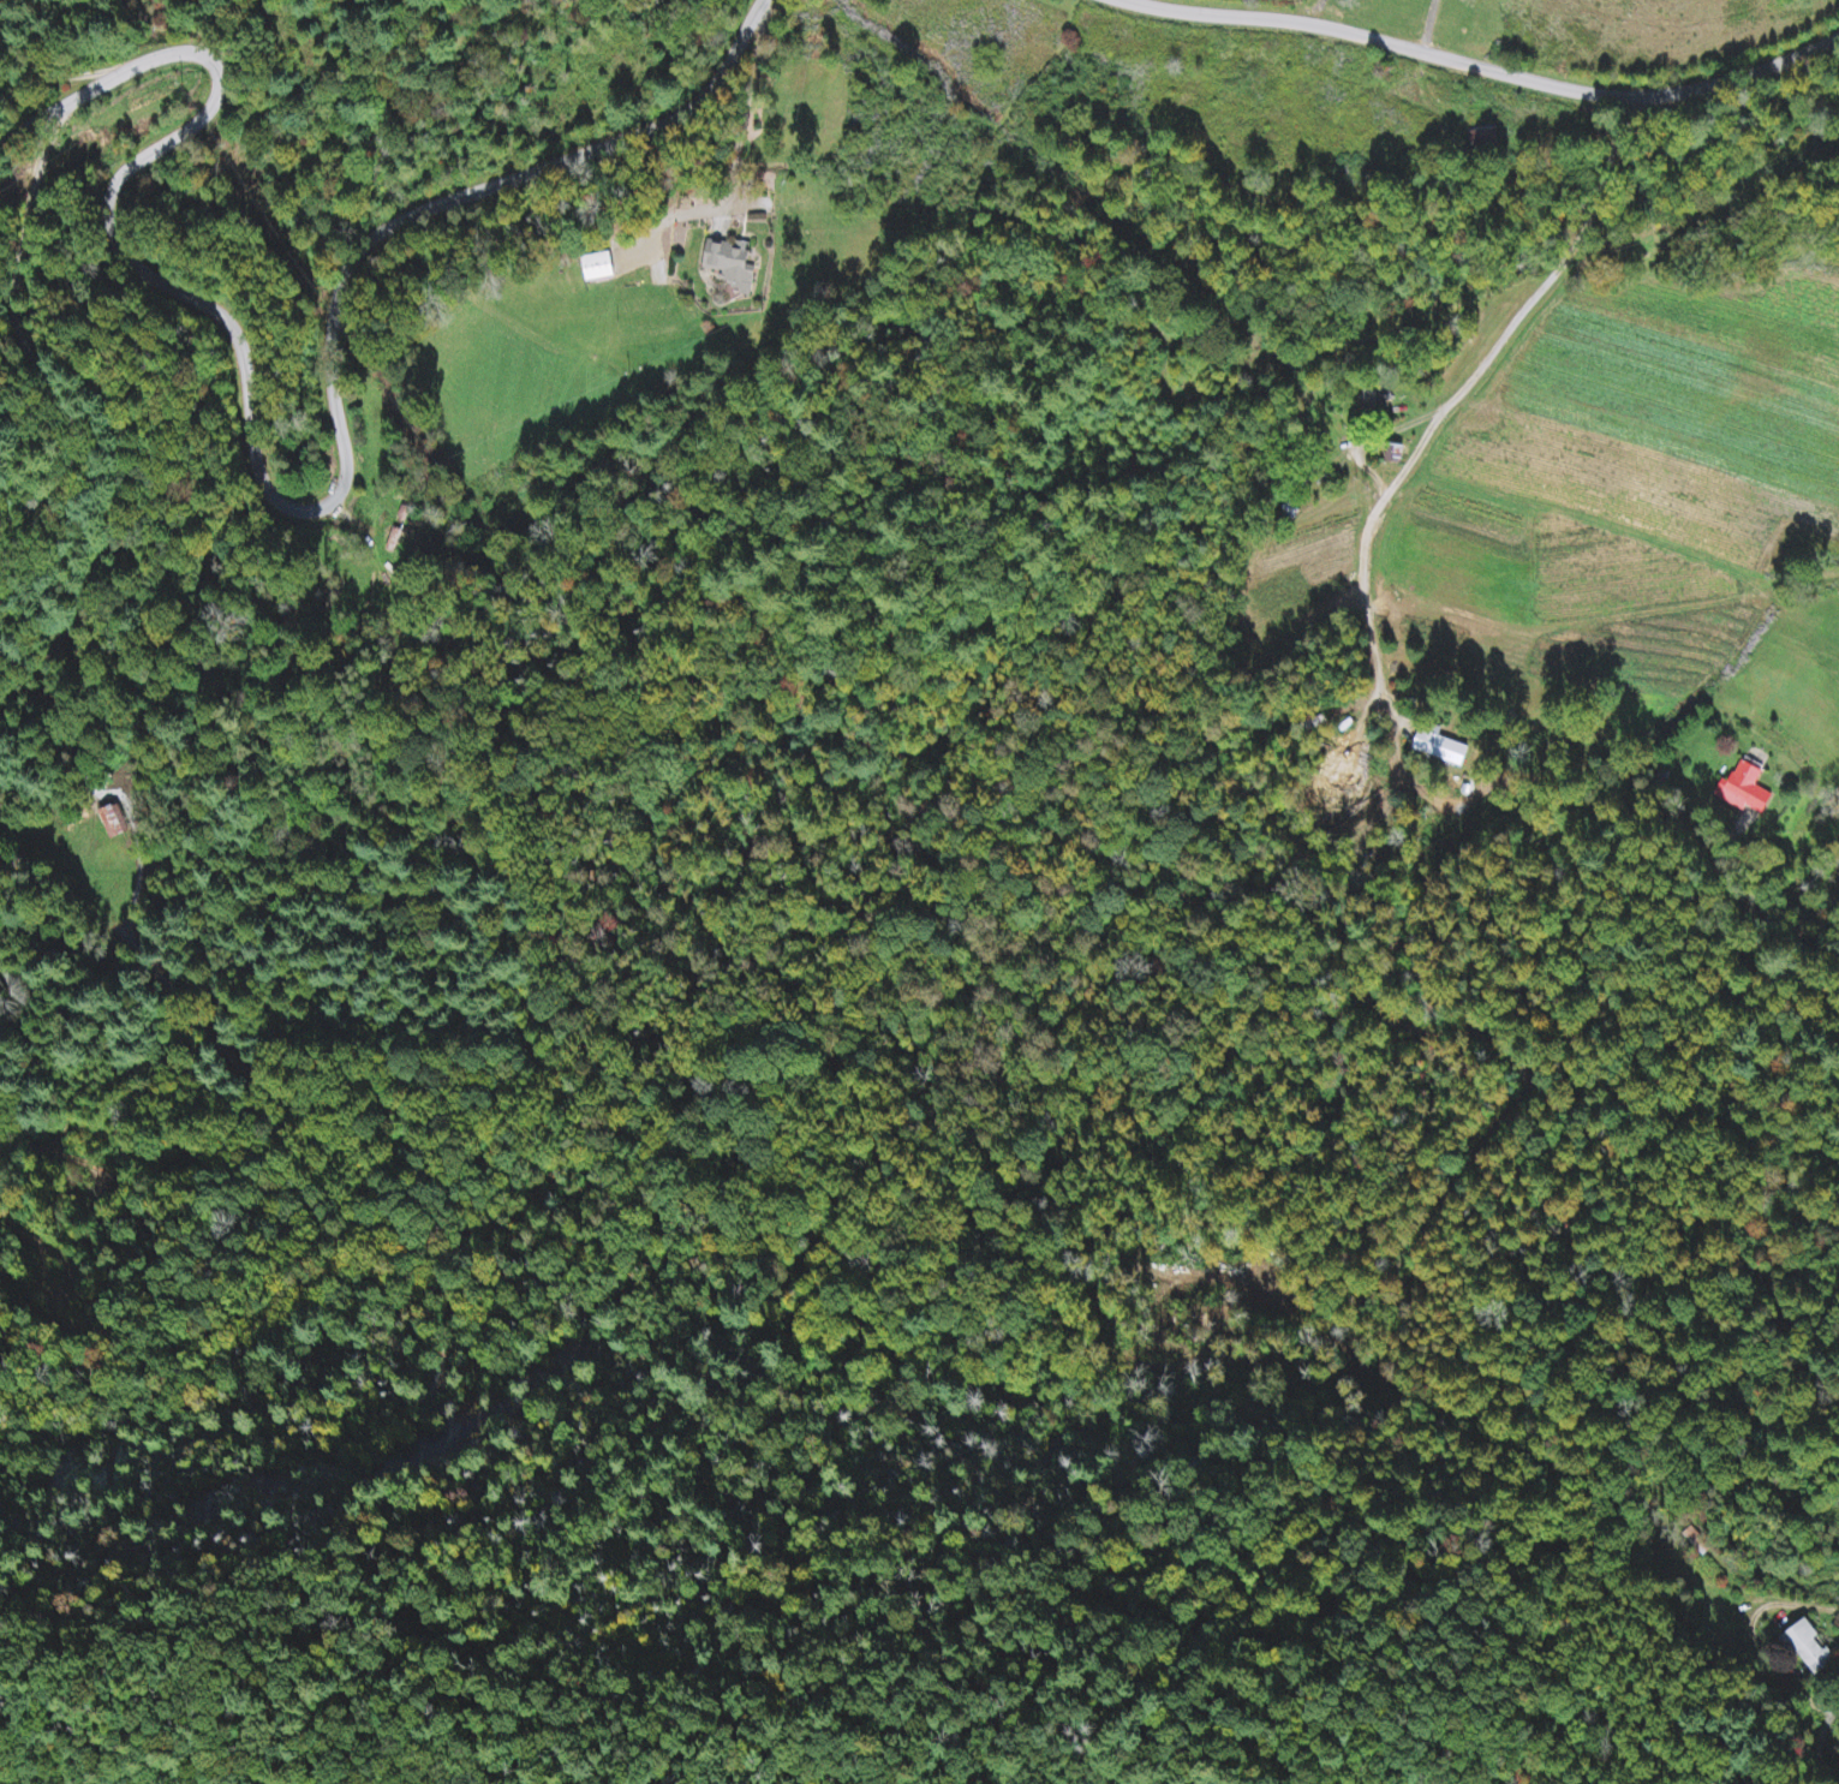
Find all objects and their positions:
road: (1483, 68)
building: (735, 268)
road: (1521, 300)
road: (255, 489)
building: (1440, 747)
building: (1741, 790)
road: (1761, 881)
building: (1809, 1648)

